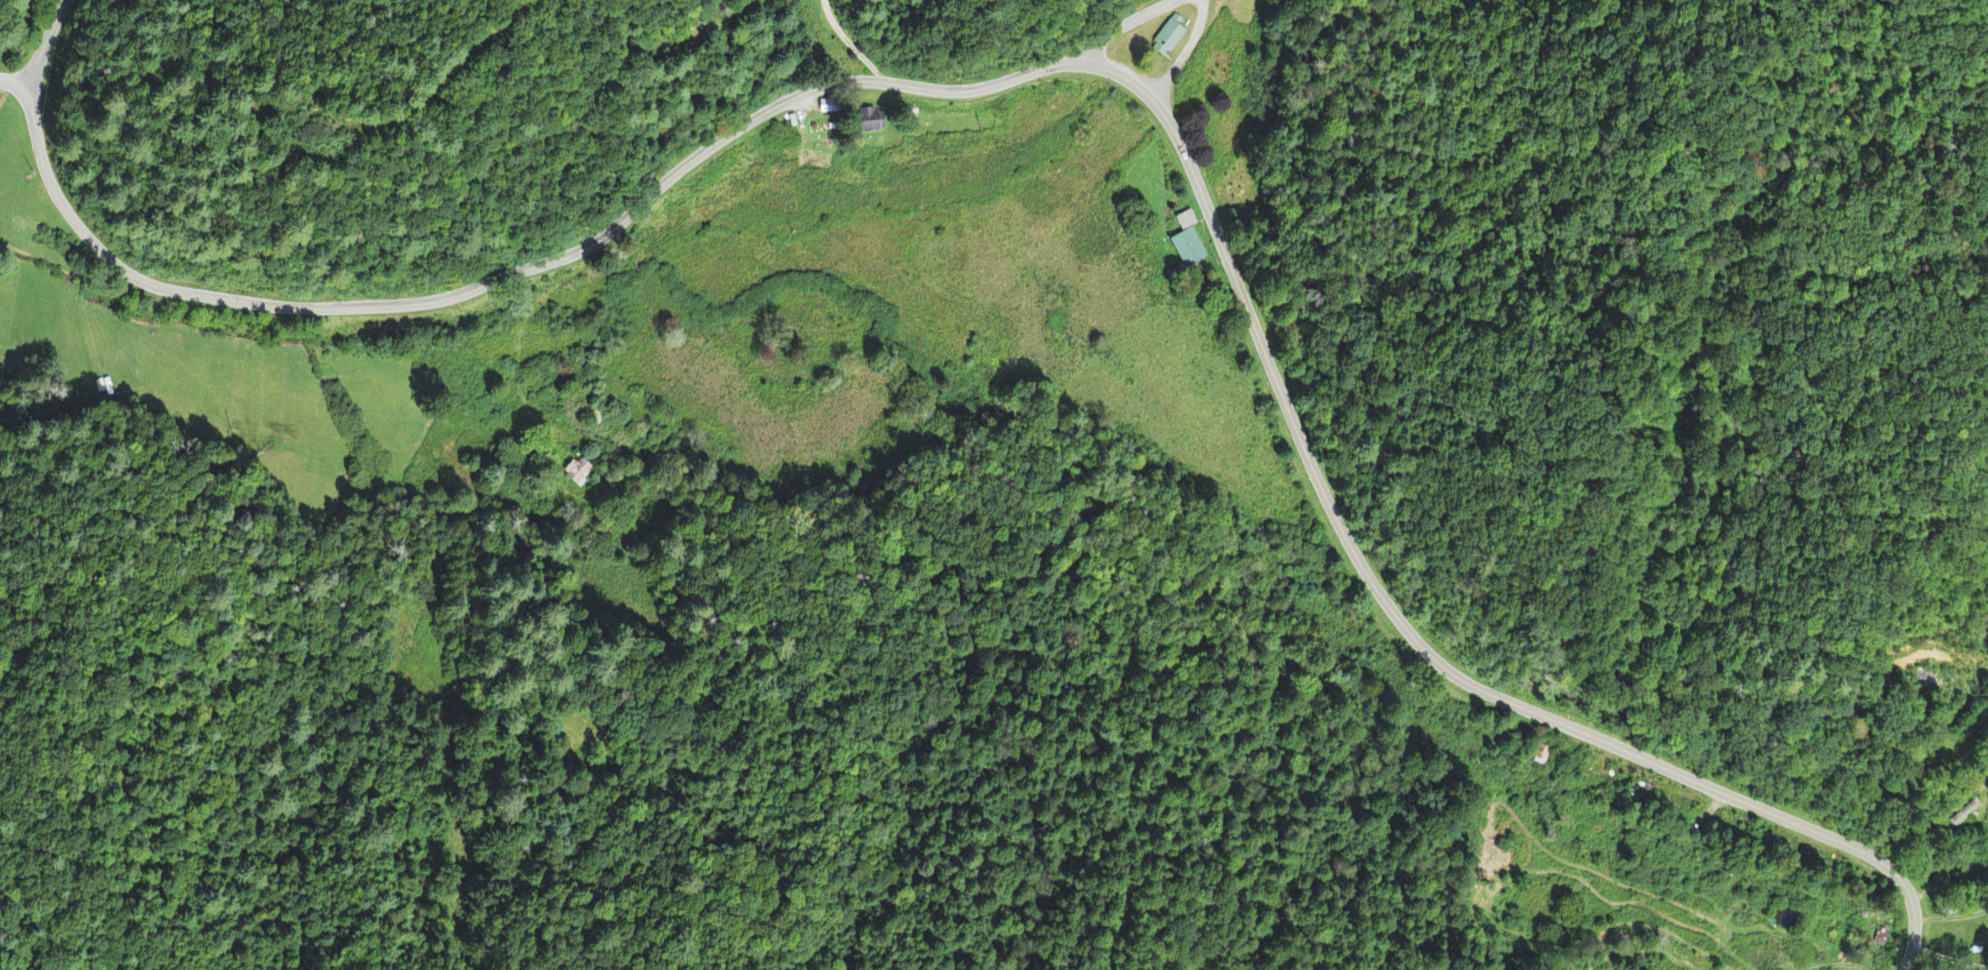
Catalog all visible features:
building: (1228, 1)
road: (1121, 26)
building: (1170, 39)
road: (848, 44)
road: (44, 45)
road: (13, 83)
building: (877, 123)
building: (1187, 223)
building: (1189, 250)
road: (561, 257)
road: (1481, 621)
road: (1961, 831)

